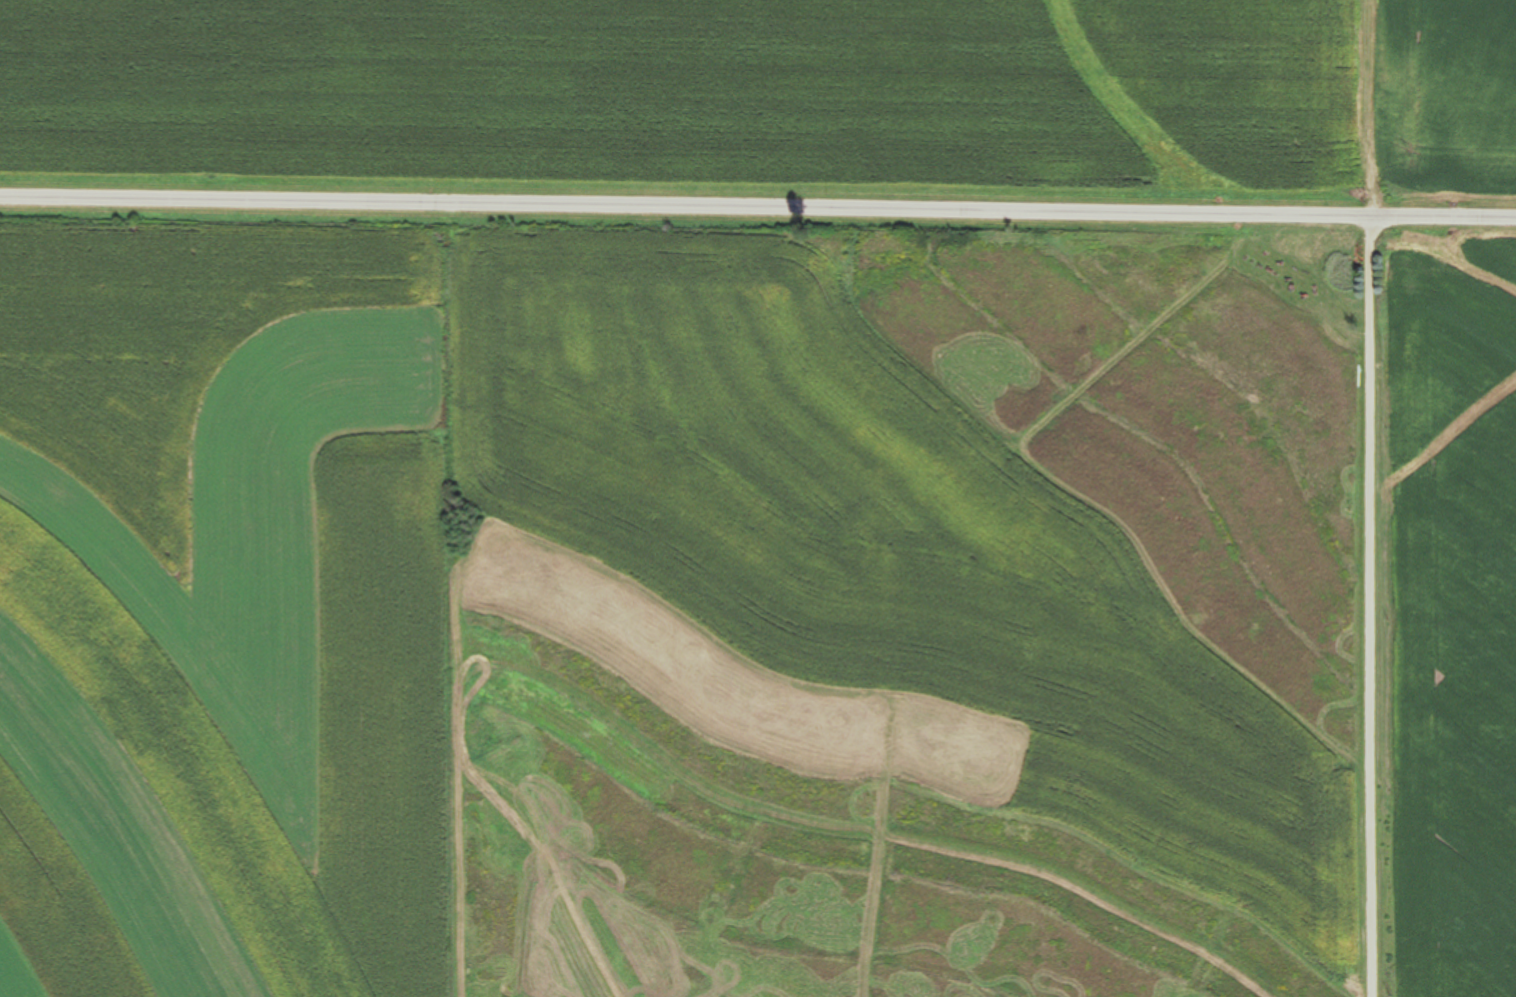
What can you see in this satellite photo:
road: (758, 185)
road: (1378, 498)

